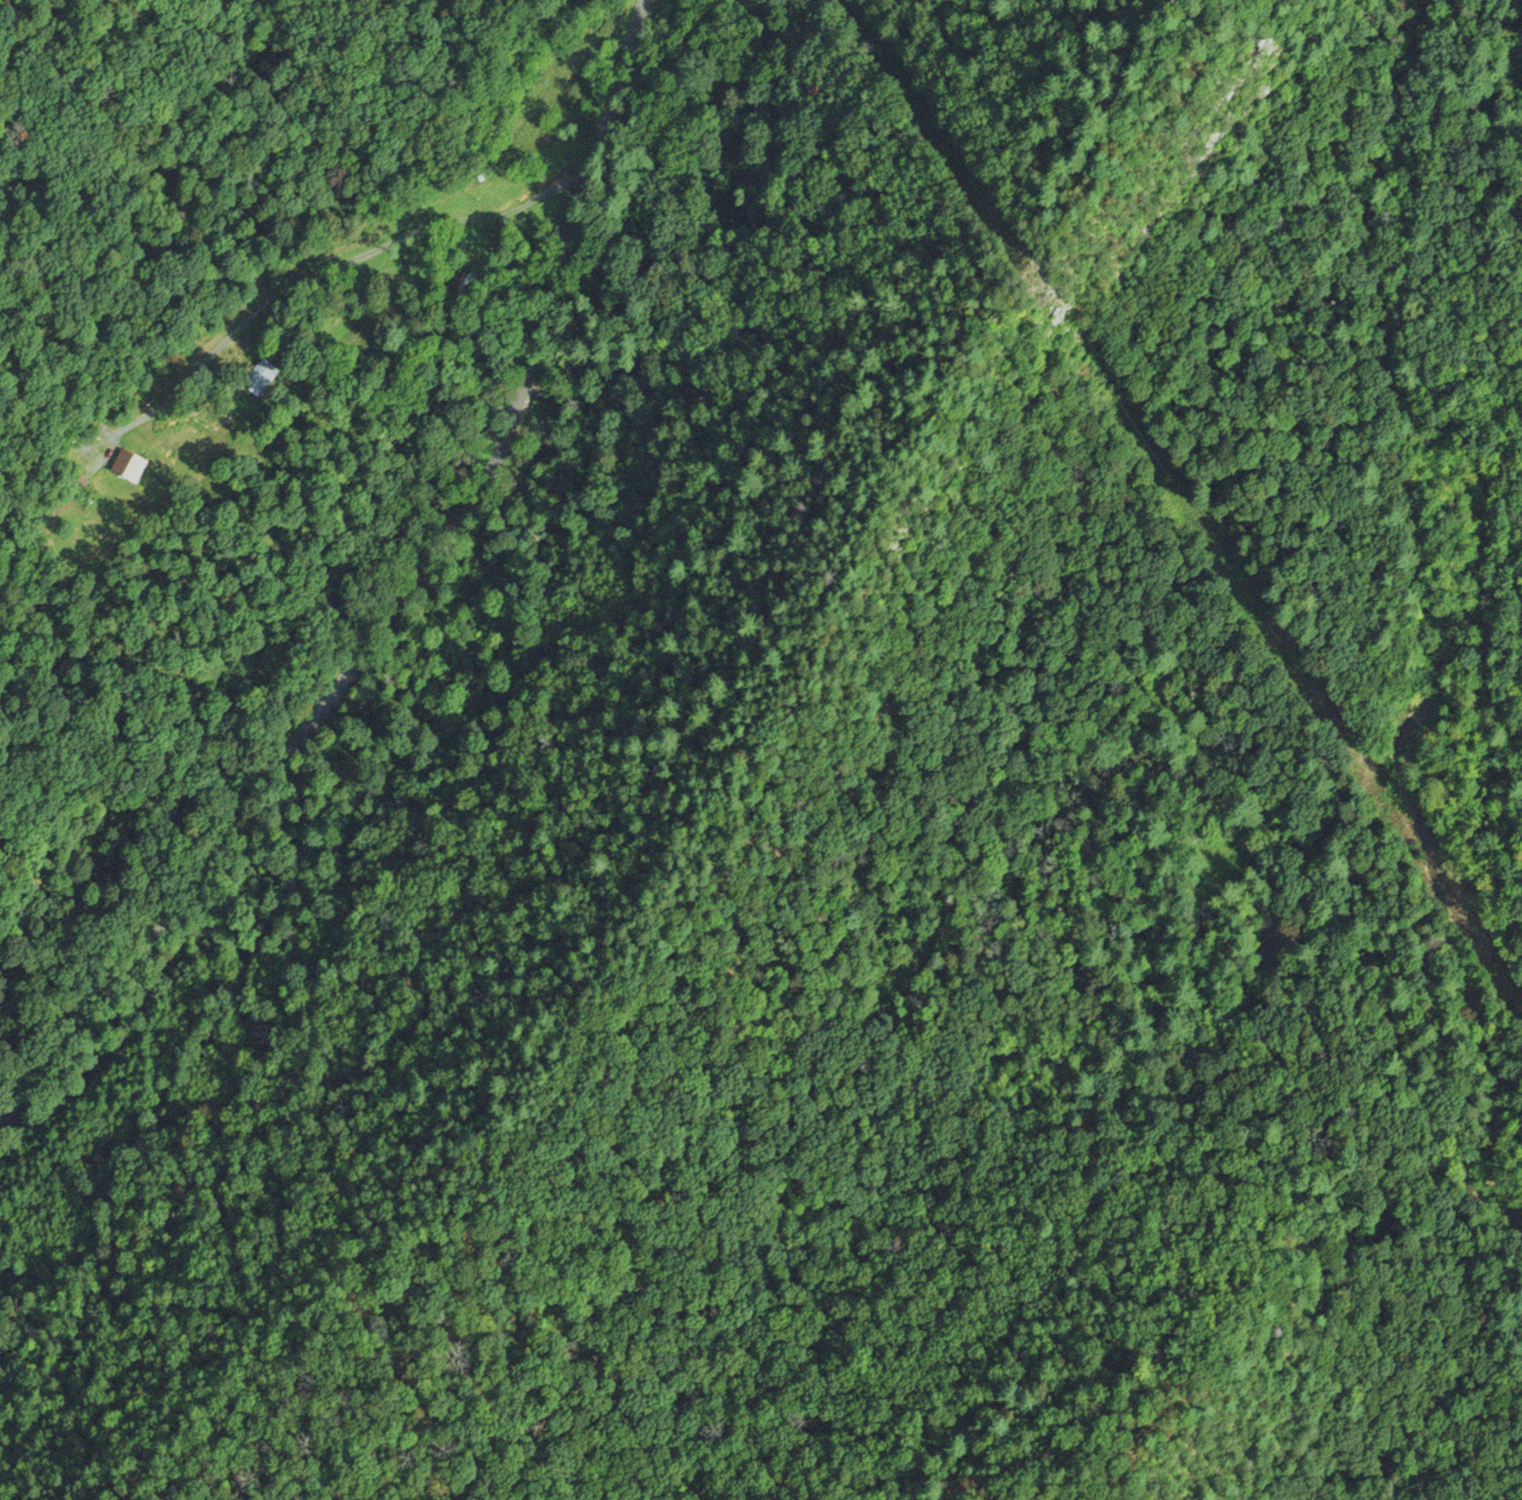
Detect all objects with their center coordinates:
road: (1483, 2)
building: (465, 283)
building: (259, 375)
building: (123, 465)
road: (399, 602)
road: (868, 783)
road: (1051, 1422)

